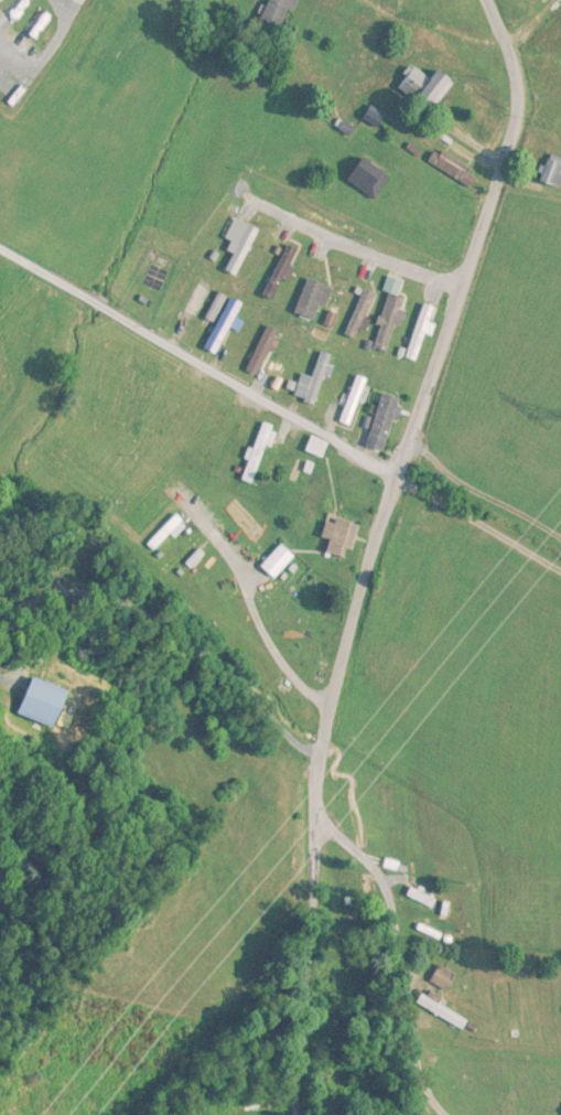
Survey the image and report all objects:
building: (277, 12)
road: (529, 22)
road: (9, 35)
building: (427, 88)
building: (454, 169)
building: (552, 172)
building: (368, 178)
road: (474, 242)
building: (240, 244)
road: (354, 249)
building: (282, 274)
building: (313, 299)
building: (359, 314)
building: (390, 317)
building: (224, 326)
building: (421, 332)
building: (261, 351)
road: (198, 366)
building: (314, 382)
building: (353, 401)
building: (384, 422)
building: (216, 429)
building: (317, 447)
building: (258, 453)
building: (141, 516)
building: (229, 521)
road: (478, 527)
building: (341, 534)
building: (184, 559)
building: (278, 561)
building: (217, 602)
road: (253, 603)
building: (312, 620)
building: (245, 644)
road: (317, 793)
building: (421, 898)
road: (398, 947)
building: (443, 977)
building: (442, 1011)

